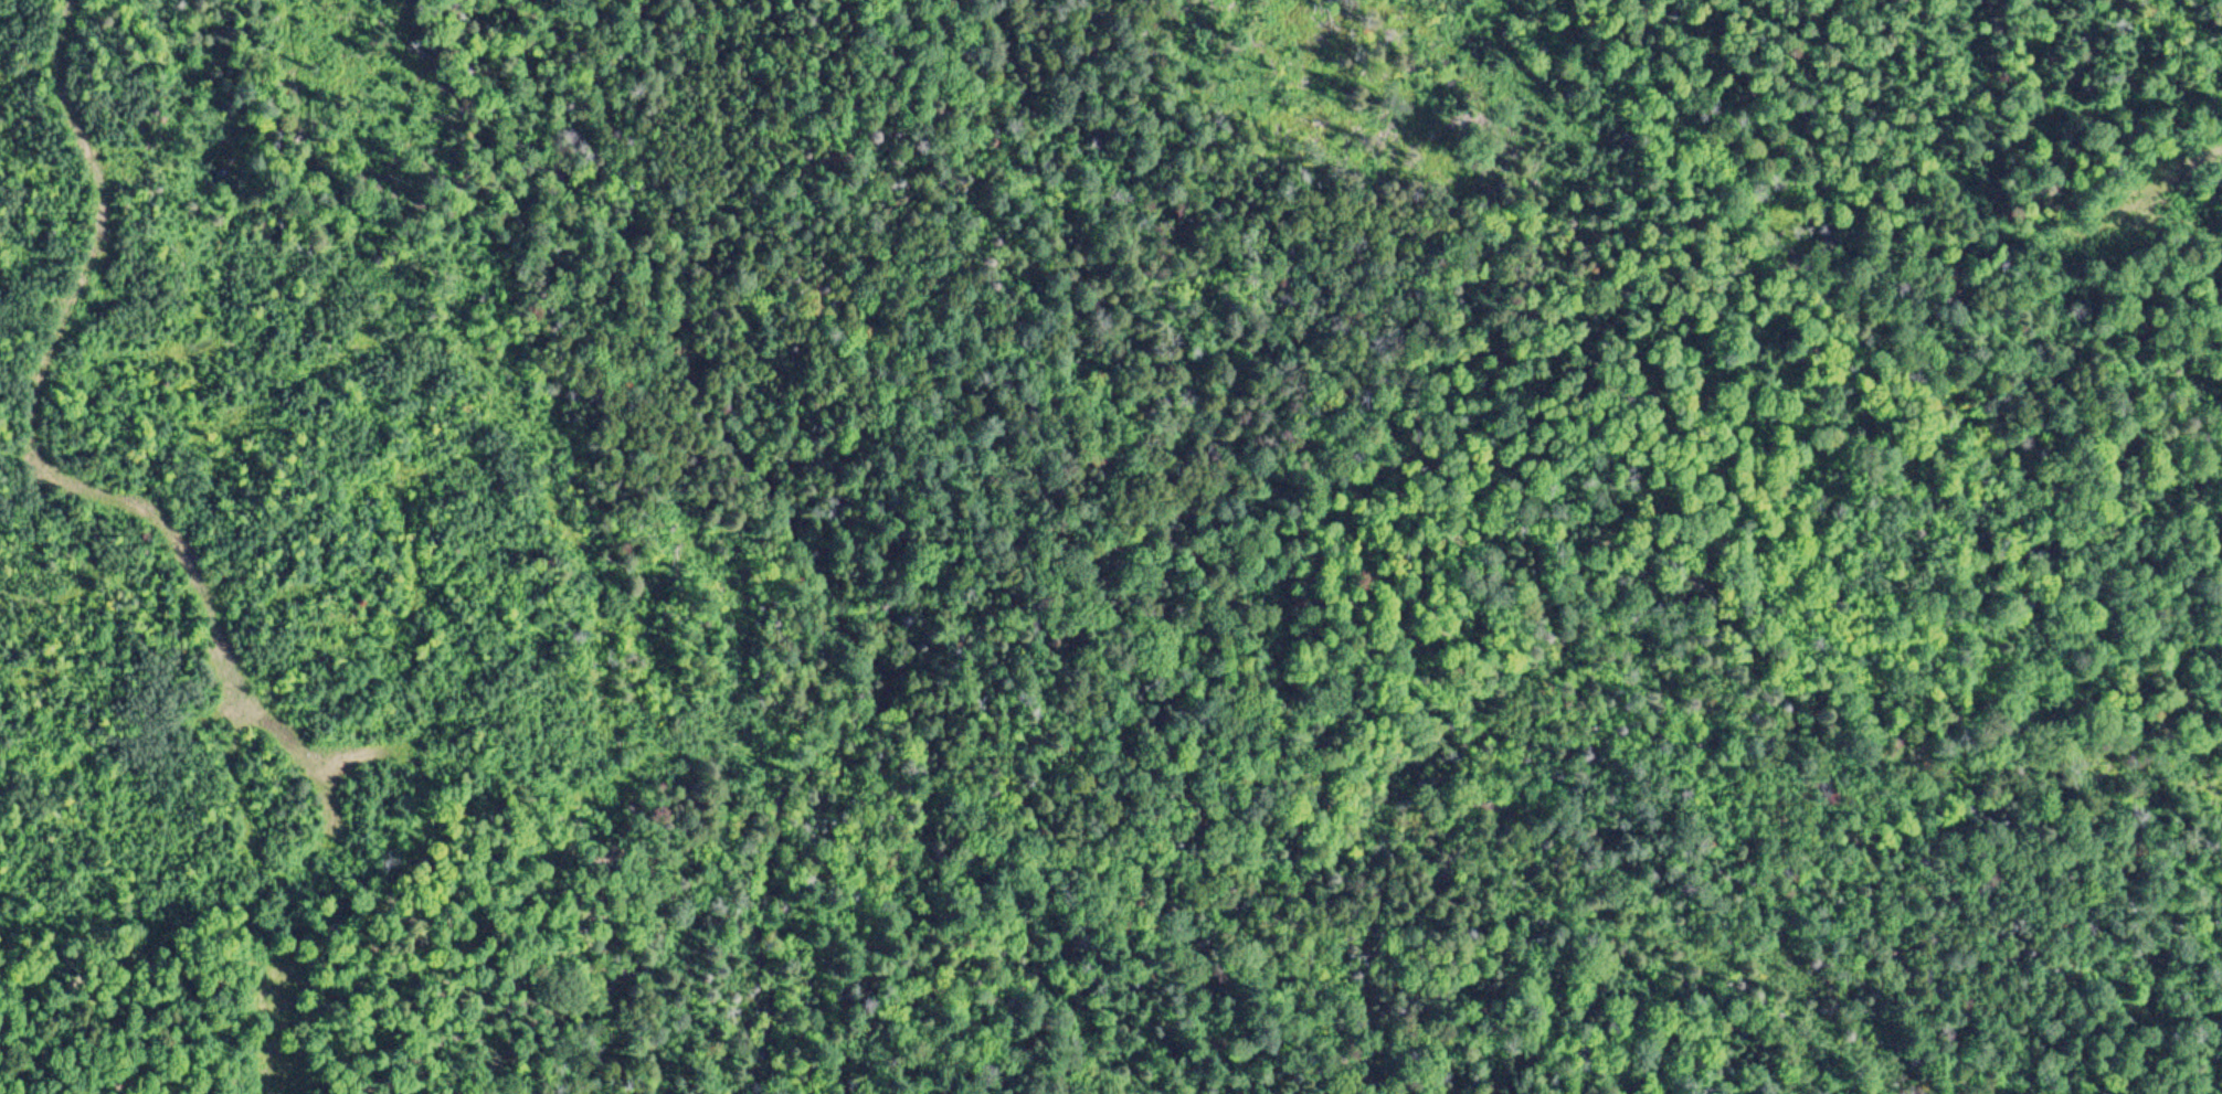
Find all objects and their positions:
road: (2166, 158)

